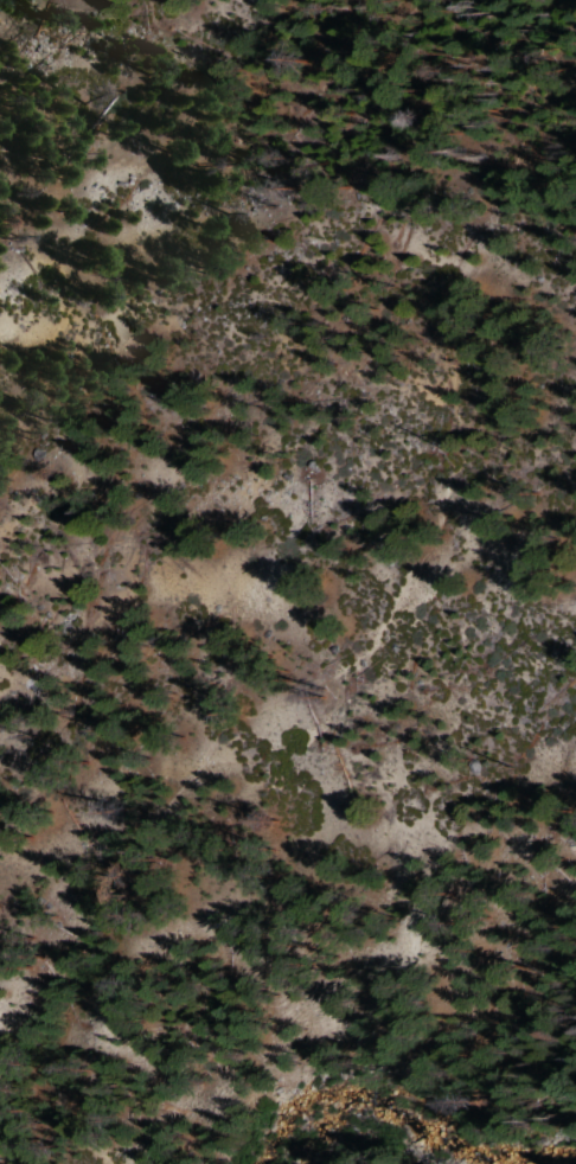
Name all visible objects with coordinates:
road: (384, 613)

